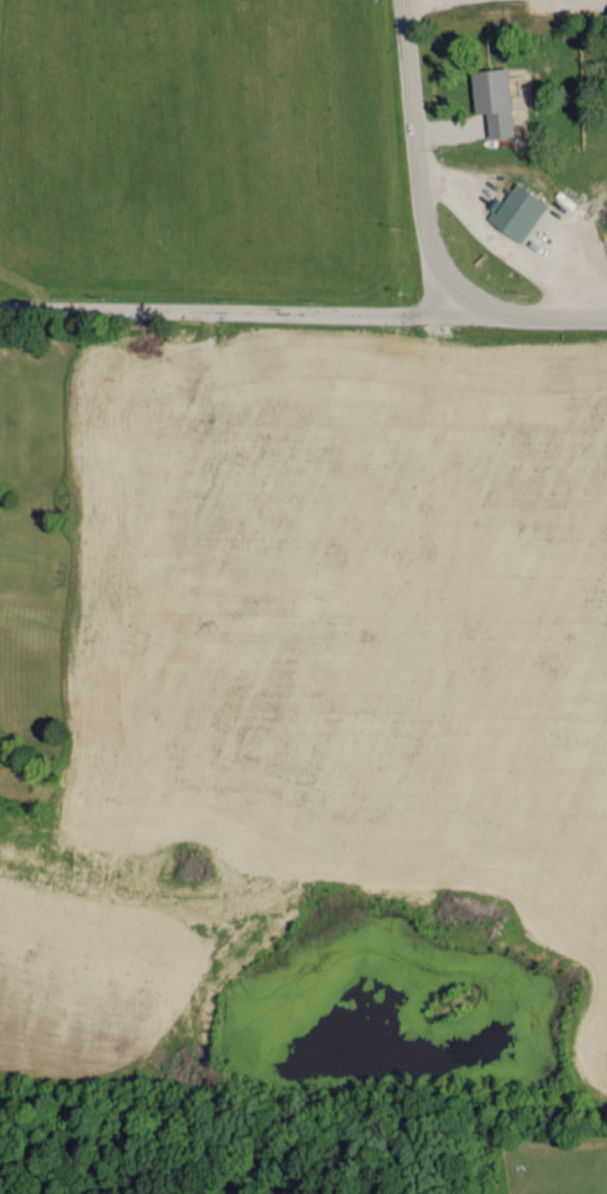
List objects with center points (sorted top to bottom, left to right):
building: (490, 99)
road: (416, 162)
building: (515, 212)
road: (521, 322)
road: (217, 324)

